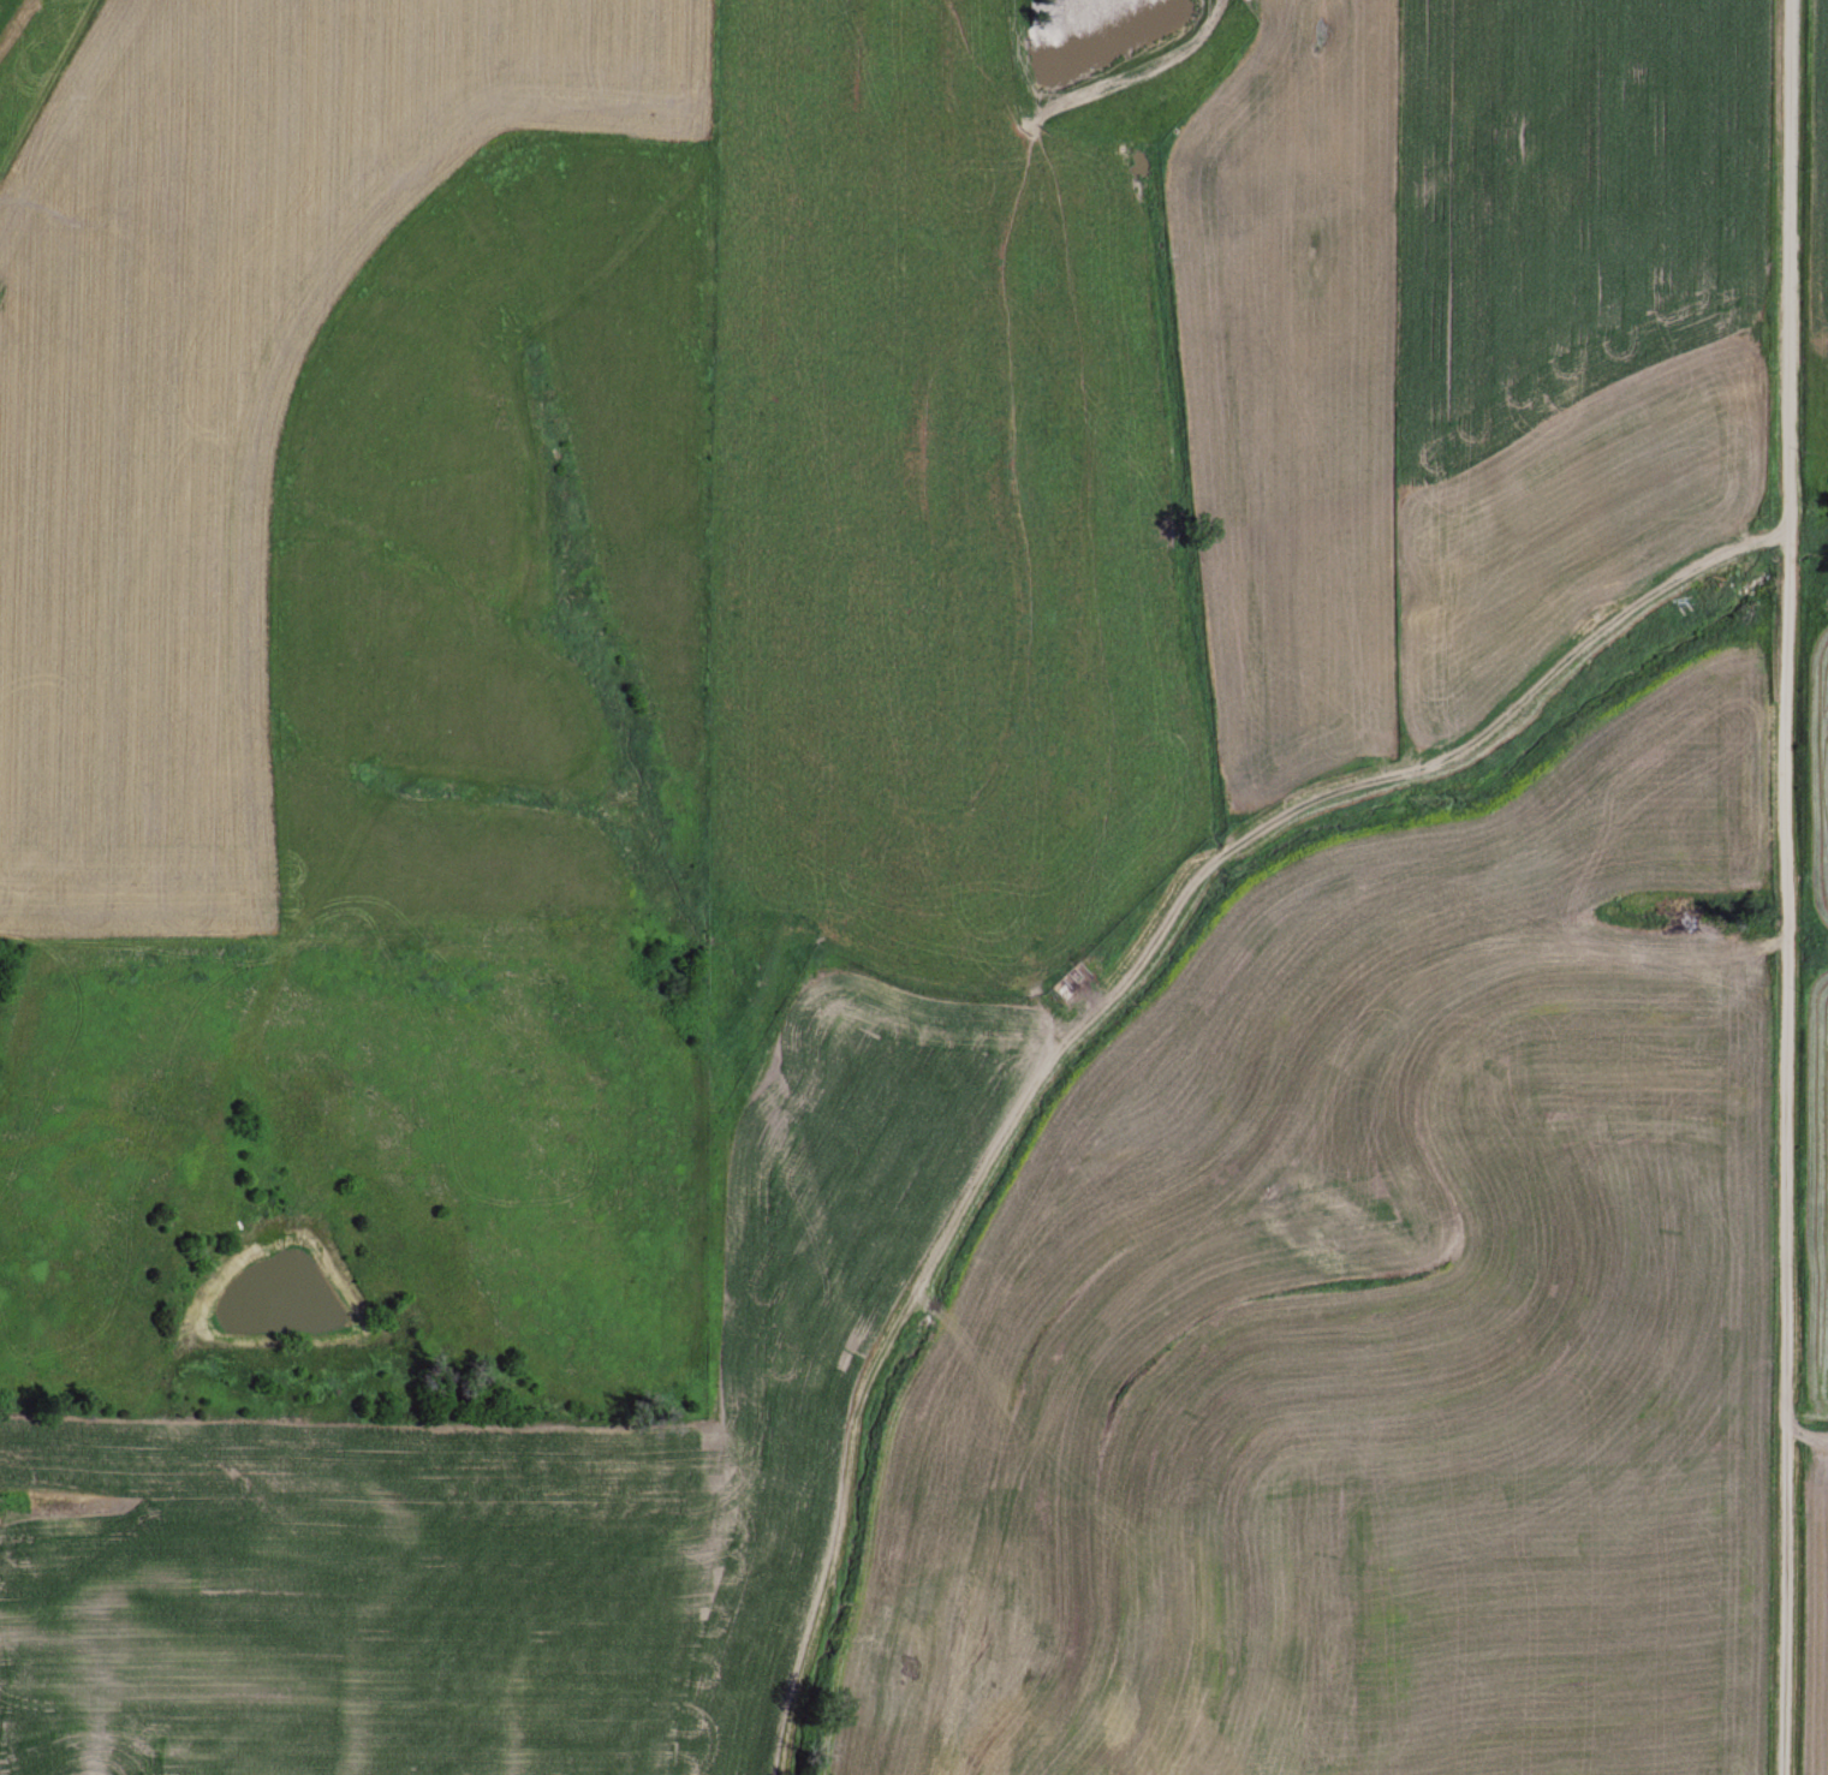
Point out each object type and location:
road: (1786, 887)

